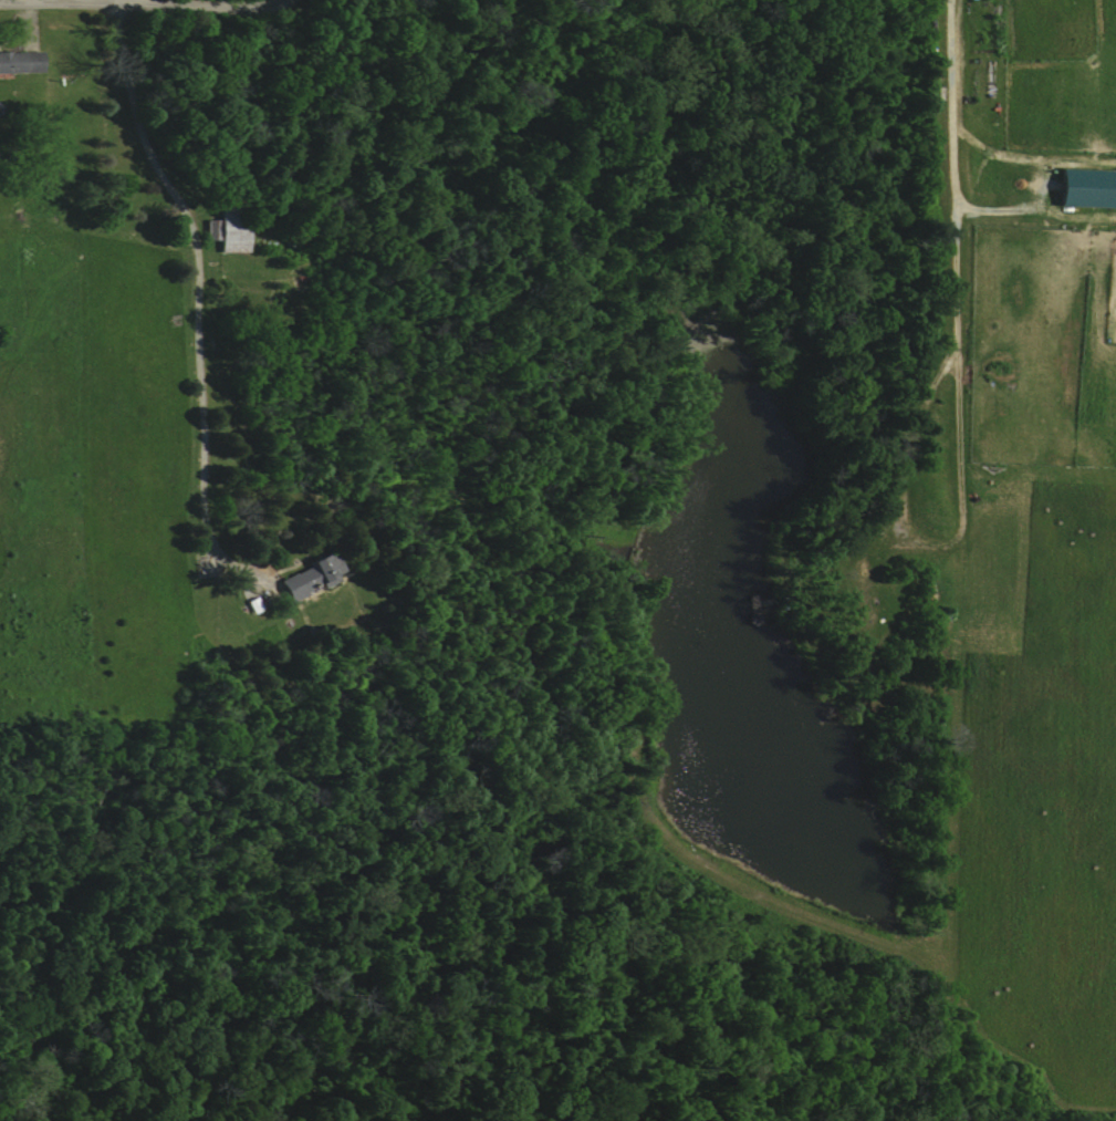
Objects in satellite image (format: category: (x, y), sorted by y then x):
road: (139, 3)
building: (20, 63)
road: (951, 137)
building: (1084, 188)
building: (227, 230)
road: (199, 274)
building: (311, 575)

